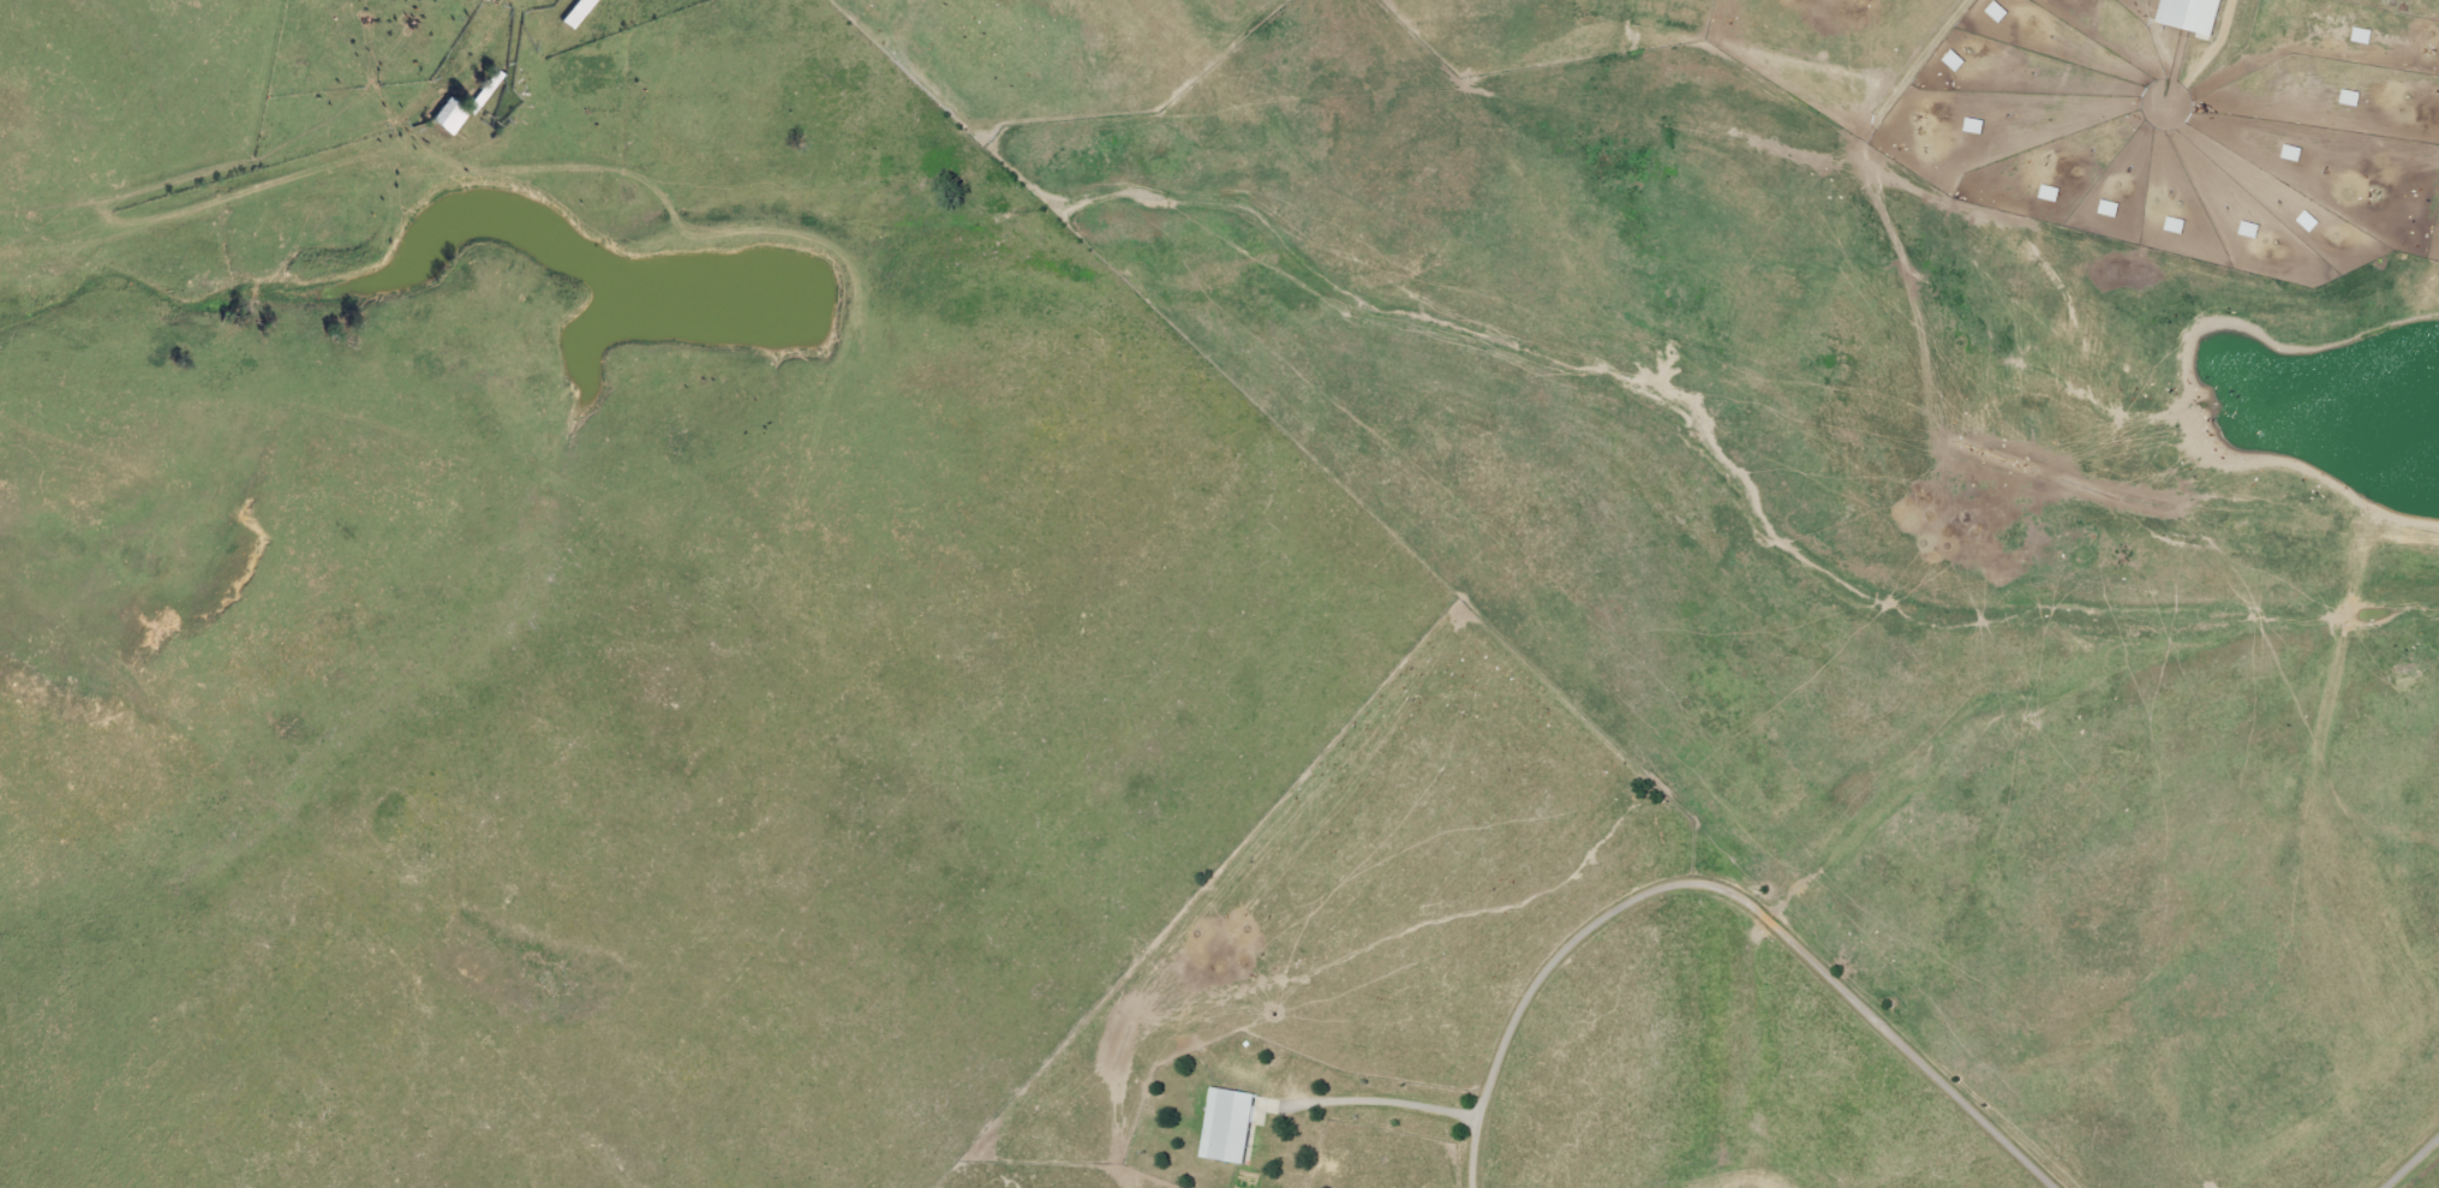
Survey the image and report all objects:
building: (580, 13)
building: (2002, 13)
building: (2190, 18)
building: (2367, 36)
building: (1959, 61)
building: (2355, 98)
building: (453, 105)
building: (1979, 126)
building: (2296, 154)
building: (2055, 193)
building: (2114, 209)
building: (2312, 222)
building: (2180, 226)
building: (2254, 231)
road: (1732, 889)
road: (1380, 1105)
building: (1226, 1132)
road: (2414, 1165)

